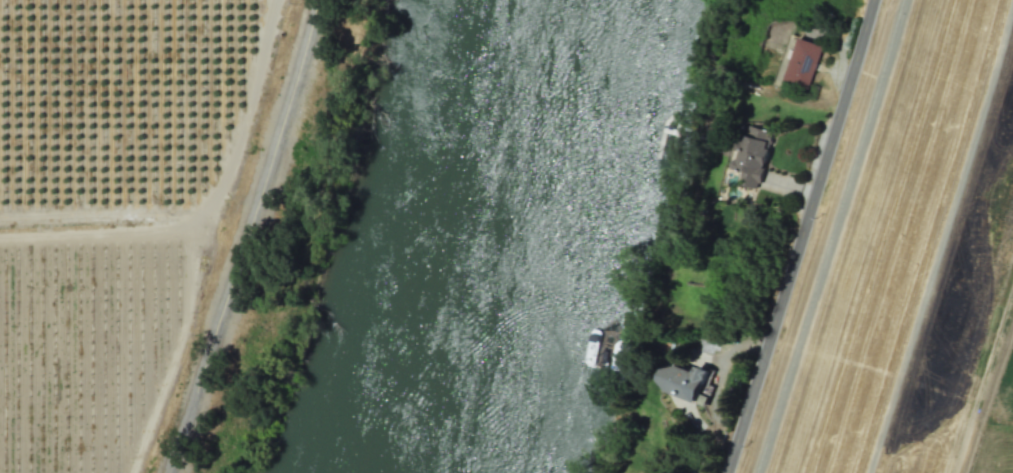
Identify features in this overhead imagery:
building: (802, 62)
building: (751, 155)
crop: (120, 211)
road: (806, 236)
river: (493, 238)
road: (253, 240)
building: (684, 381)

